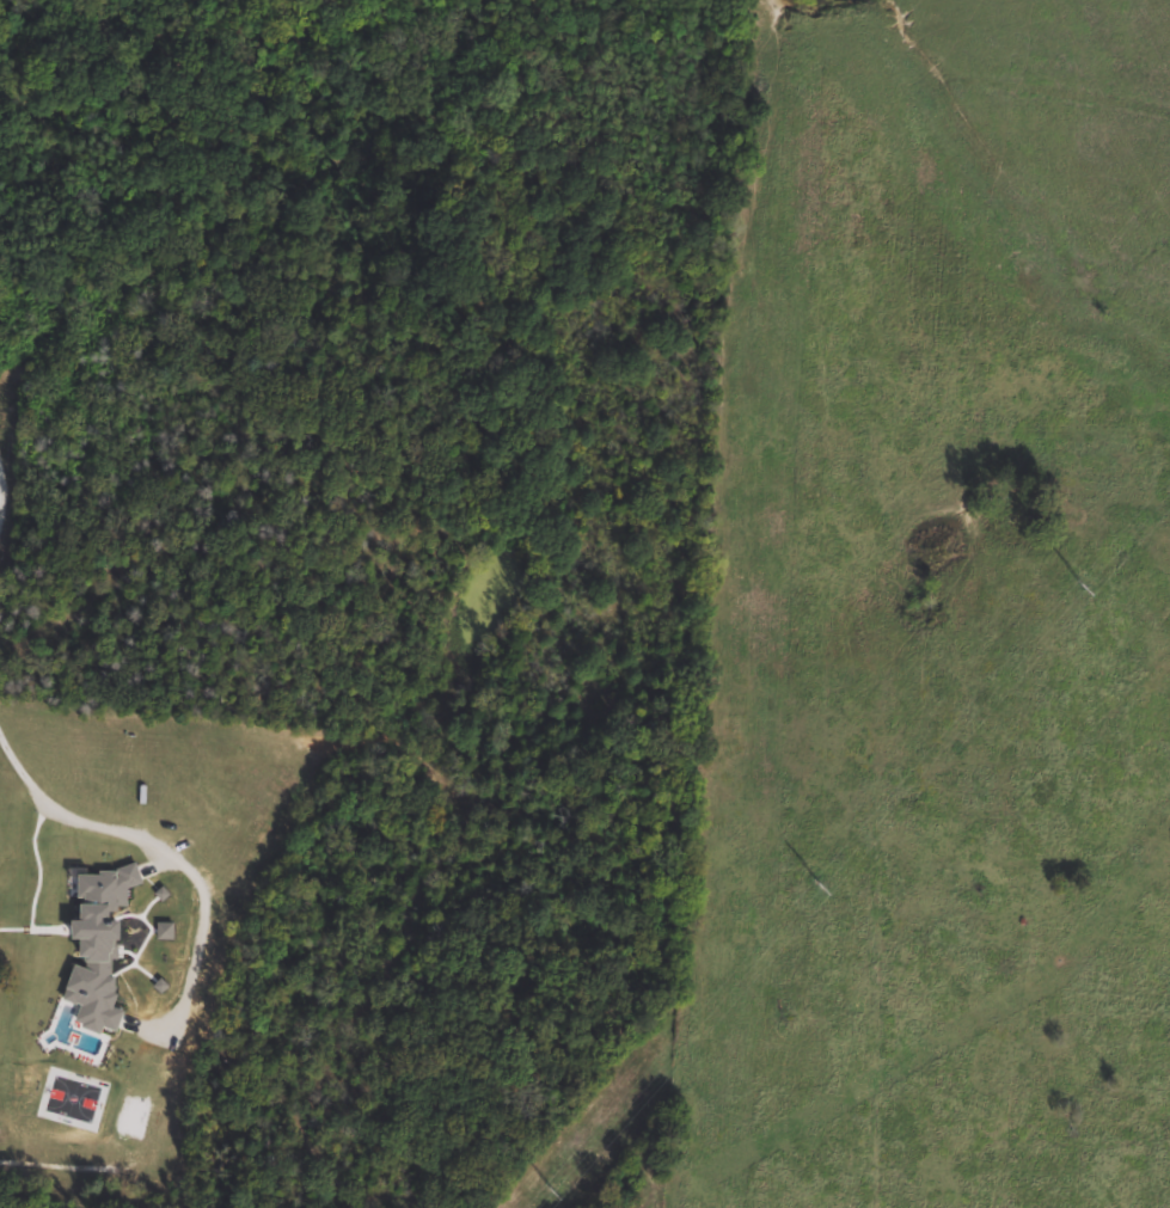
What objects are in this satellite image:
road: (5, 496)
road: (47, 797)
building: (99, 945)

